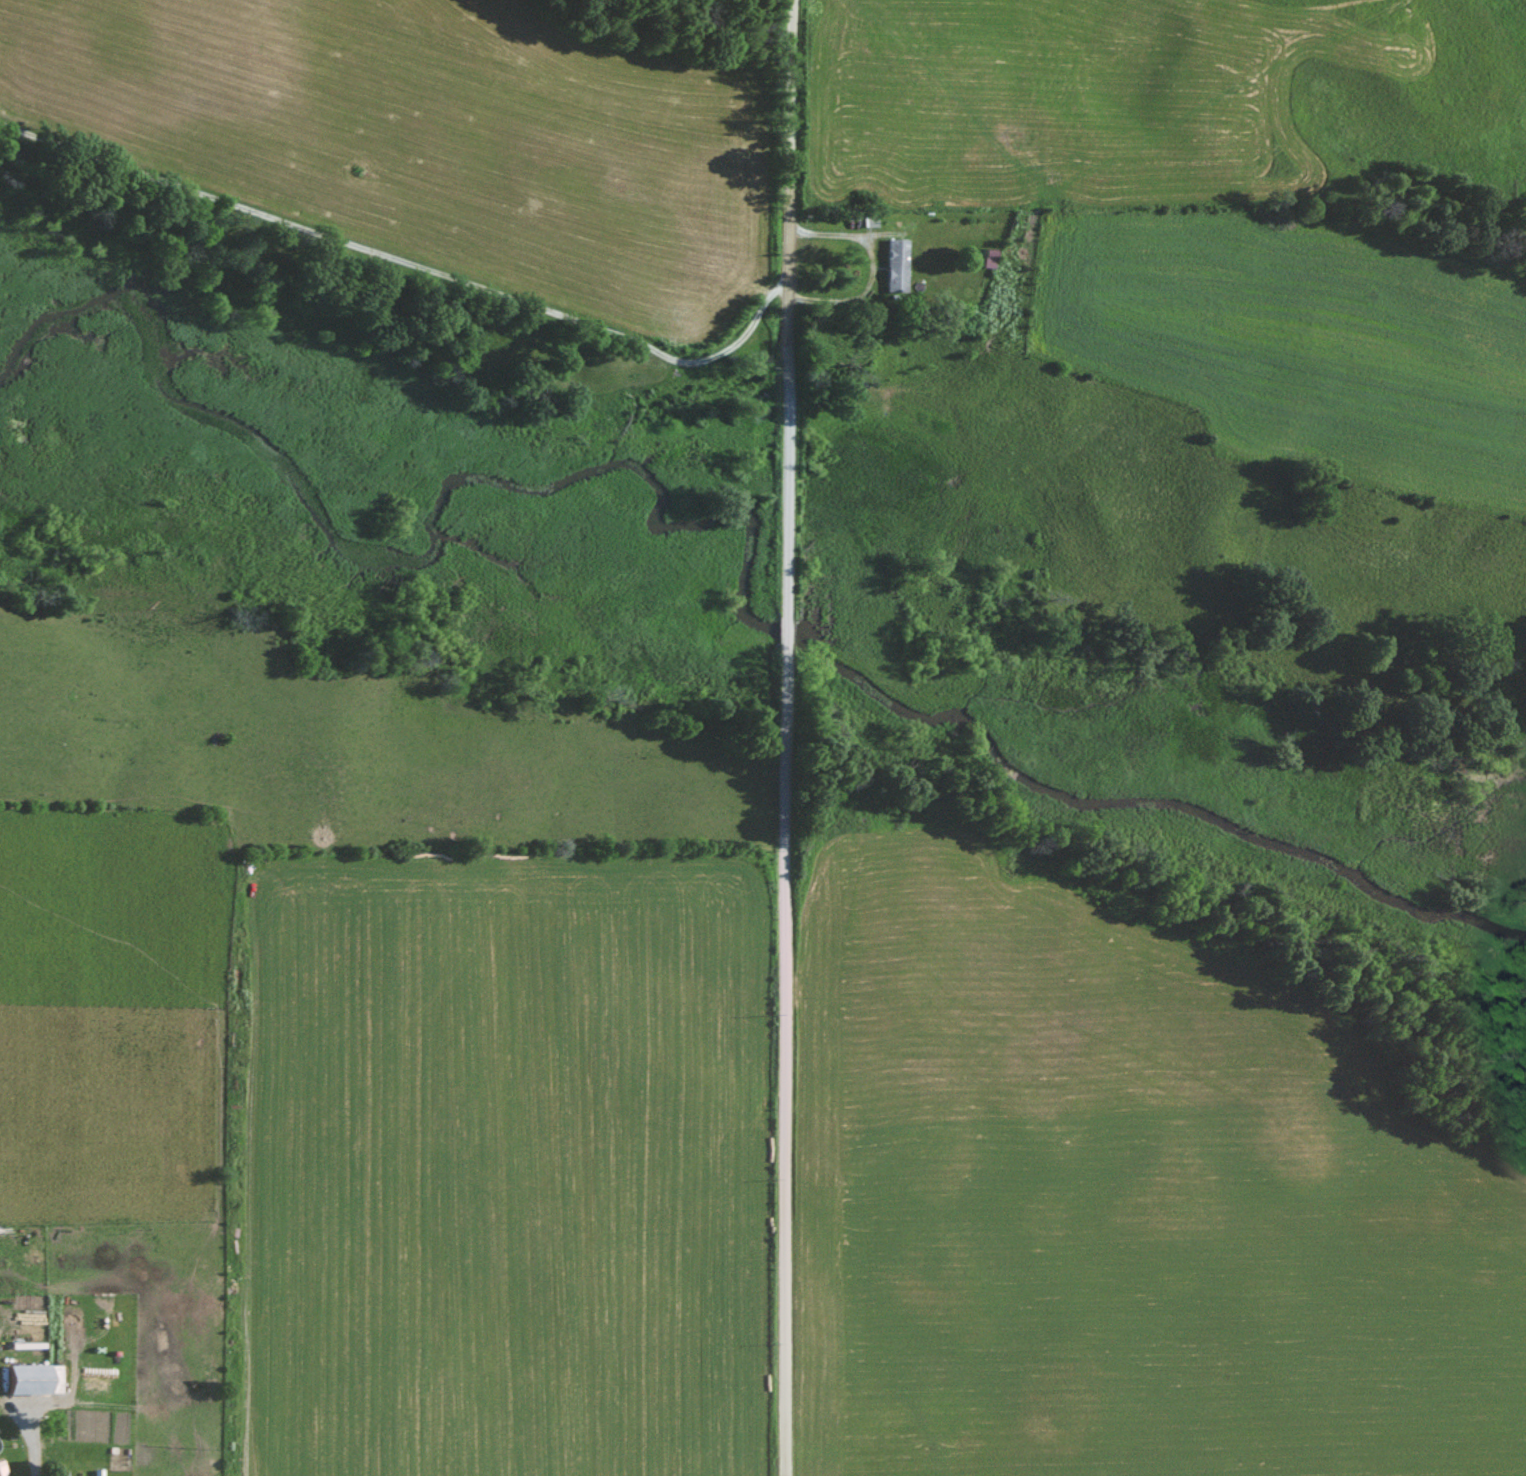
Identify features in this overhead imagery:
road: (876, 234)
building: (982, 257)
road: (873, 265)
building: (892, 265)
road: (866, 269)
river: (422, 564)
road: (790, 737)
building: (36, 1378)
road: (31, 1455)
building: (2, 1468)

